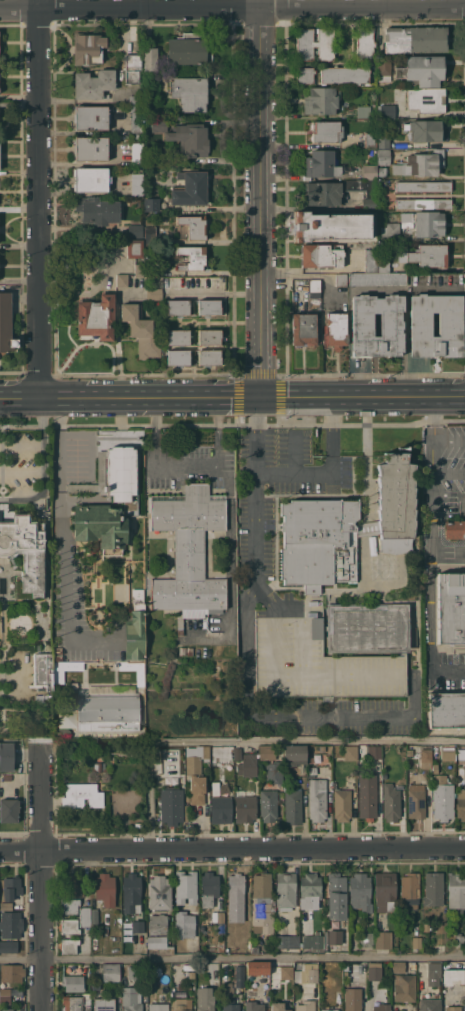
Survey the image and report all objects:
road: (232, 8)
building: (415, 38)
building: (314, 43)
building: (365, 43)
building: (88, 48)
building: (189, 48)
building: (150, 59)
building: (132, 67)
building: (384, 68)
building: (421, 70)
building: (305, 75)
building: (345, 75)
building: (152, 80)
building: (93, 84)
building: (189, 92)
building: (133, 99)
building: (321, 100)
building: (426, 100)
building: (363, 111)
building: (387, 111)
building: (90, 117)
building: (136, 118)
building: (156, 124)
building: (425, 130)
building: (326, 131)
building: (189, 138)
building: (383, 139)
building: (370, 140)
building: (90, 148)
building: (136, 153)
building: (384, 156)
building: (321, 164)
building: (420, 164)
building: (370, 171)
building: (382, 171)
building: (90, 179)
building: (388, 181)
building: (137, 184)
building: (423, 186)
building: (189, 188)
building: (323, 193)
building: (371, 194)
building: (423, 194)
road: (41, 198)
road: (259, 198)
building: (422, 203)
building: (151, 204)
building: (97, 210)
building: (423, 222)
building: (193, 226)
building: (330, 226)
building: (135, 230)
building: (390, 230)
building: (150, 235)
building: (135, 249)
building: (425, 255)
building: (320, 256)
building: (192, 257)
building: (371, 260)
building: (383, 261)
building: (139, 270)
building: (151, 270)
building: (340, 279)
building: (378, 279)
road: (20, 280)
building: (122, 280)
building: (314, 288)
building: (154, 293)
road: (214, 293)
road: (26, 296)
road: (5, 297)
building: (209, 306)
building: (177, 307)
building: (96, 317)
building: (6, 322)
building: (450, 324)
building: (391, 325)
building: (303, 329)
building: (141, 330)
building: (335, 330)
building: (209, 336)
building: (178, 337)
building: (209, 356)
building: (178, 357)
building: (418, 363)
road: (232, 398)
traffic signals: (259, 398)
road: (450, 441)
road: (369, 459)
road: (44, 467)
road: (186, 467)
road: (294, 471)
road: (449, 472)
building: (124, 498)
building: (345, 529)
road: (365, 529)
building: (454, 529)
road: (63, 541)
road: (432, 548)
building: (189, 550)
building: (25, 552)
building: (382, 566)
road: (363, 573)
building: (451, 608)
building: (135, 627)
building: (368, 628)
building: (58, 650)
building: (58, 657)
road: (247, 662)
building: (318, 663)
building: (43, 671)
building: (58, 676)
building: (140, 678)
building: (108, 708)
building: (446, 709)
building: (48, 715)
building: (66, 718)
building: (61, 732)
road: (254, 738)
building: (321, 751)
building: (373, 751)
building: (268, 752)
building: (350, 752)
building: (237, 753)
building: (229, 754)
building: (294, 754)
building: (448, 754)
building: (461, 754)
building: (6, 756)
building: (168, 757)
building: (425, 758)
building: (248, 765)
building: (99, 766)
building: (435, 768)
building: (274, 771)
building: (313, 771)
building: (196, 772)
building: (7, 777)
building: (215, 788)
building: (81, 796)
building: (367, 796)
building: (442, 798)
building: (317, 799)
building: (416, 801)
building: (391, 802)
building: (461, 802)
building: (342, 804)
building: (171, 805)
building: (268, 805)
building: (293, 806)
building: (245, 808)
building: (221, 809)
building: (9, 810)
road: (232, 847)
road: (45, 875)
building: (236, 884)
building: (72, 885)
building: (132, 885)
building: (186, 887)
building: (12, 888)
building: (209, 888)
building: (433, 888)
building: (105, 889)
building: (285, 890)
building: (310, 890)
building: (409, 890)
building: (385, 891)
building: (456, 891)
building: (360, 892)
building: (159, 893)
building: (337, 896)
building: (262, 903)
building: (6, 906)
building: (70, 906)
building: (142, 912)
building: (242, 916)
building: (85, 917)
building: (94, 917)
building: (221, 917)
building: (182, 921)
building: (157, 924)
building: (11, 925)
building: (70, 926)
building: (138, 926)
building: (426, 926)
building: (335, 937)
building: (228, 938)
building: (367, 940)
building: (383, 940)
building: (459, 940)
building: (161, 941)
building: (282, 941)
building: (313, 941)
building: (416, 942)
building: (221, 945)
building: (9, 946)
building: (69, 946)
building: (254, 949)
road: (232, 959)
building: (413, 963)
building: (398, 966)
building: (257, 968)
building: (434, 970)
building: (11, 972)
building: (111, 972)
building: (133, 972)
building: (286, 972)
building: (307, 973)
building: (375, 973)
building: (240, 976)
building: (453, 976)
building: (332, 981)
building: (73, 982)
building: (405, 988)
building: (5, 991)
building: (120, 998)
building: (132, 998)
building: (229, 998)
building: (5, 999)
building: (205, 999)
building: (353, 999)
building: (76, 1002)
building: (104, 1004)
building: (181, 1004)
building: (430, 1005)
building: (254, 1006)
building: (278, 1006)
building: (159, 1007)
building: (305, 1007)
building: (382, 1007)
building: (453, 1008)
building: (7, 1009)
building: (329, 1010)

